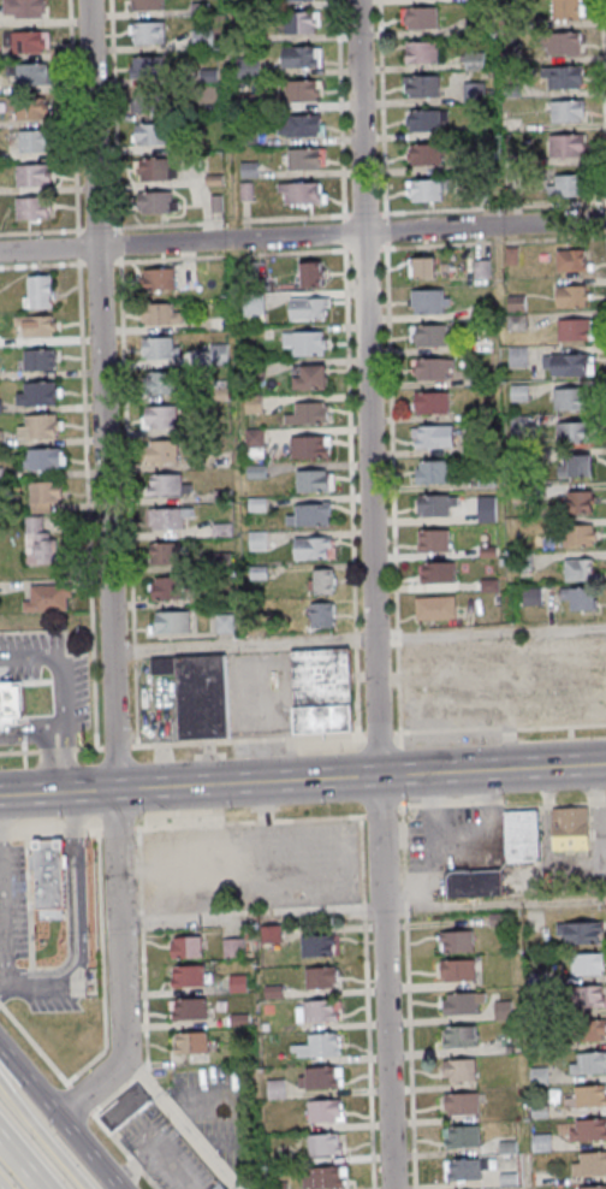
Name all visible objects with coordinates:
building: (298, 0)
building: (145, 5)
building: (24, 8)
building: (568, 10)
building: (421, 18)
building: (301, 22)
building: (147, 32)
building: (26, 41)
building: (565, 42)
road: (604, 47)
building: (421, 53)
building: (301, 57)
building: (474, 61)
building: (248, 66)
building: (149, 67)
building: (30, 73)
building: (565, 77)
building: (421, 87)
building: (303, 90)
building: (153, 101)
building: (26, 108)
road: (381, 108)
road: (339, 111)
building: (568, 111)
road: (115, 116)
road: (71, 118)
building: (426, 120)
building: (301, 125)
building: (151, 134)
building: (34, 141)
building: (568, 146)
building: (423, 154)
building: (304, 158)
building: (156, 170)
building: (35, 174)
building: (566, 185)
building: (427, 189)
building: (302, 193)
building: (160, 202)
road: (492, 207)
building: (34, 208)
road: (231, 220)
road: (41, 231)
road: (302, 236)
road: (554, 238)
road: (434, 244)
road: (232, 255)
building: (571, 260)
road: (41, 264)
building: (423, 267)
building: (311, 273)
building: (159, 280)
building: (38, 291)
building: (572, 296)
building: (430, 302)
building: (309, 308)
building: (160, 315)
building: (37, 325)
building: (219, 325)
building: (574, 330)
building: (429, 336)
building: (307, 343)
building: (160, 349)
building: (40, 360)
building: (569, 363)
building: (434, 369)
building: (310, 377)
building: (161, 383)
building: (37, 394)
building: (570, 398)
building: (432, 403)
building: (254, 404)
building: (310, 413)
building: (160, 418)
building: (38, 426)
building: (576, 432)
building: (433, 437)
building: (255, 443)
building: (311, 446)
building: (164, 451)
building: (218, 457)
building: (42, 459)
building: (578, 465)
building: (434, 471)
building: (315, 480)
building: (170, 485)
road: (392, 493)
building: (46, 495)
road: (351, 495)
building: (222, 496)
road: (129, 501)
road: (87, 502)
building: (581, 502)
building: (438, 504)
building: (310, 515)
building: (168, 519)
building: (222, 530)
building: (578, 534)
building: (257, 540)
building: (434, 540)
building: (41, 542)
building: (314, 548)
building: (165, 555)
building: (219, 562)
building: (578, 569)
road: (108, 570)
building: (436, 573)
building: (322, 581)
building: (168, 590)
road: (373, 594)
building: (49, 598)
building: (580, 598)
building: (439, 608)
building: (322, 615)
building: (173, 621)
building: (224, 623)
road: (358, 638)
parking lot: (42, 690)
building: (322, 691)
building: (198, 693)
road: (65, 700)
building: (22, 702)
road: (28, 735)
road: (302, 737)
road: (492, 770)
road: (188, 785)
building: (570, 829)
building: (522, 835)
parking lot: (249, 866)
building: (49, 879)
building: (475, 883)
road: (361, 911)
road: (2, 925)
road: (78, 925)
building: (580, 931)
building: (273, 934)
building: (457, 941)
building: (317, 946)
building: (186, 947)
building: (234, 947)
building: (588, 964)
building: (457, 970)
building: (186, 977)
building: (321, 977)
building: (237, 983)
building: (590, 996)
building: (463, 1004)
building: (189, 1010)
building: (503, 1010)
building: (317, 1012)
building: (592, 1030)
building: (459, 1036)
building: (191, 1043)
building: (320, 1047)
building: (589, 1064)
building: (459, 1070)
building: (321, 1078)
building: (275, 1089)
building: (589, 1095)
building: (462, 1104)
building: (125, 1107)
building: (325, 1112)
road: (60, 1119)
road: (178, 1119)
building: (587, 1130)
road: (42, 1137)
building: (462, 1137)
building: (541, 1142)
building: (326, 1146)
building: (590, 1164)
building: (465, 1170)
road: (13, 1172)
building: (325, 1178)
building: (221, 1187)
building: (592, 1187)

